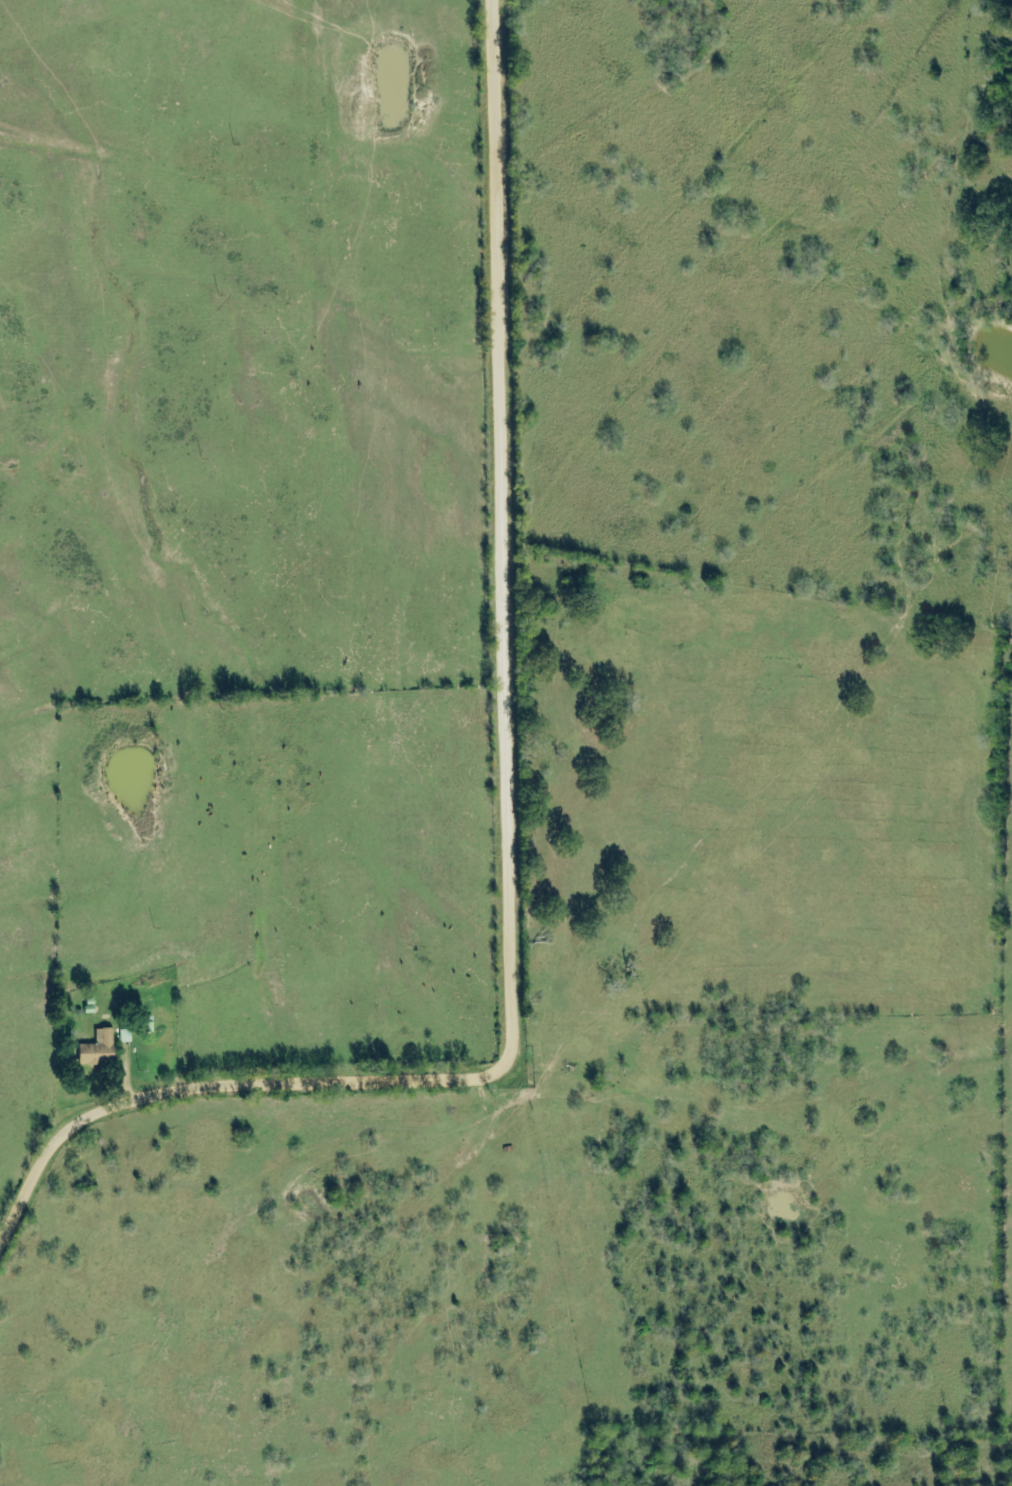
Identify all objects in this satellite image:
road: (514, 830)
building: (97, 1049)

